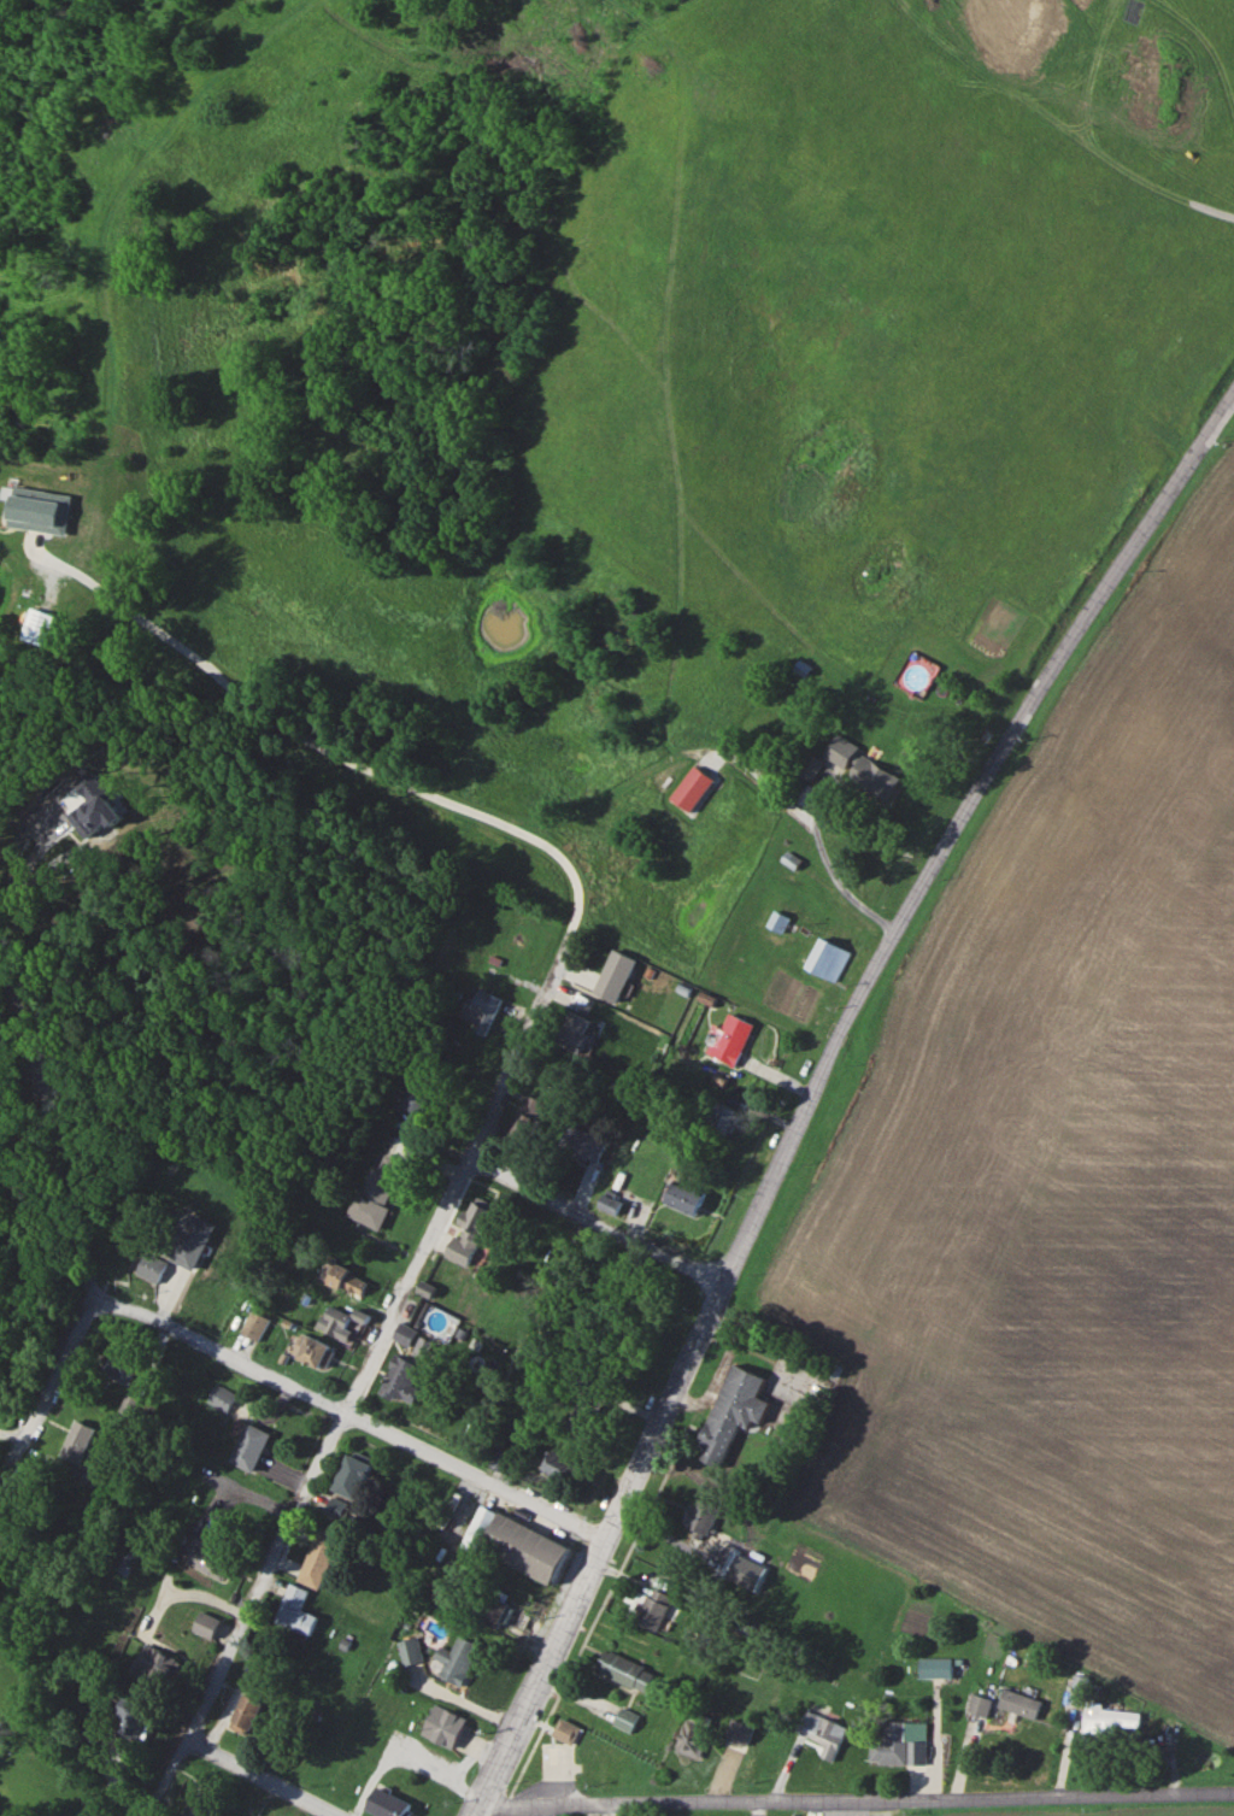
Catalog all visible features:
building: (41, 510)
building: (40, 627)
road: (302, 734)
building: (841, 751)
building: (875, 777)
building: (694, 788)
building: (94, 806)
road: (20, 868)
road: (832, 875)
building: (777, 921)
building: (827, 959)
building: (616, 976)
building: (481, 1010)
building: (574, 1032)
building: (728, 1039)
road: (40, 1069)
road: (818, 1082)
building: (417, 1095)
building: (525, 1117)
building: (725, 1117)
building: (584, 1145)
crop: (1058, 1181)
building: (376, 1191)
building: (684, 1199)
road: (592, 1224)
building: (470, 1234)
building: (193, 1241)
road: (48, 1250)
building: (149, 1268)
building: (342, 1279)
building: (424, 1288)
building: (341, 1323)
building: (255, 1326)
building: (404, 1334)
building: (315, 1351)
road: (365, 1359)
building: (119, 1368)
building: (400, 1380)
road: (46, 1387)
building: (127, 1404)
building: (733, 1412)
road: (355, 1416)
building: (580, 1416)
building: (77, 1441)
building: (251, 1447)
building: (558, 1465)
building: (353, 1476)
park: (0, 1516)
building: (700, 1518)
building: (515, 1542)
building: (318, 1558)
building: (211, 1561)
road: (184, 1593)
building: (653, 1609)
building: (295, 1611)
building: (500, 1611)
building: (207, 1624)
building: (409, 1651)
building: (457, 1659)
building: (157, 1663)
building: (934, 1668)
building: (623, 1670)
building: (1076, 1687)
building: (1018, 1704)
building: (977, 1705)
building: (129, 1709)
building: (245, 1714)
building: (625, 1720)
building: (1109, 1720)
building: (442, 1726)
building: (565, 1730)
building: (738, 1732)
building: (823, 1733)
park: (25, 1734)
building: (688, 1740)
building: (899, 1745)
road: (405, 1761)
parking lot: (554, 1761)
road: (258, 1779)
road: (856, 1798)
building: (196, 1803)
building: (388, 1803)
crop: (1126, 1814)

